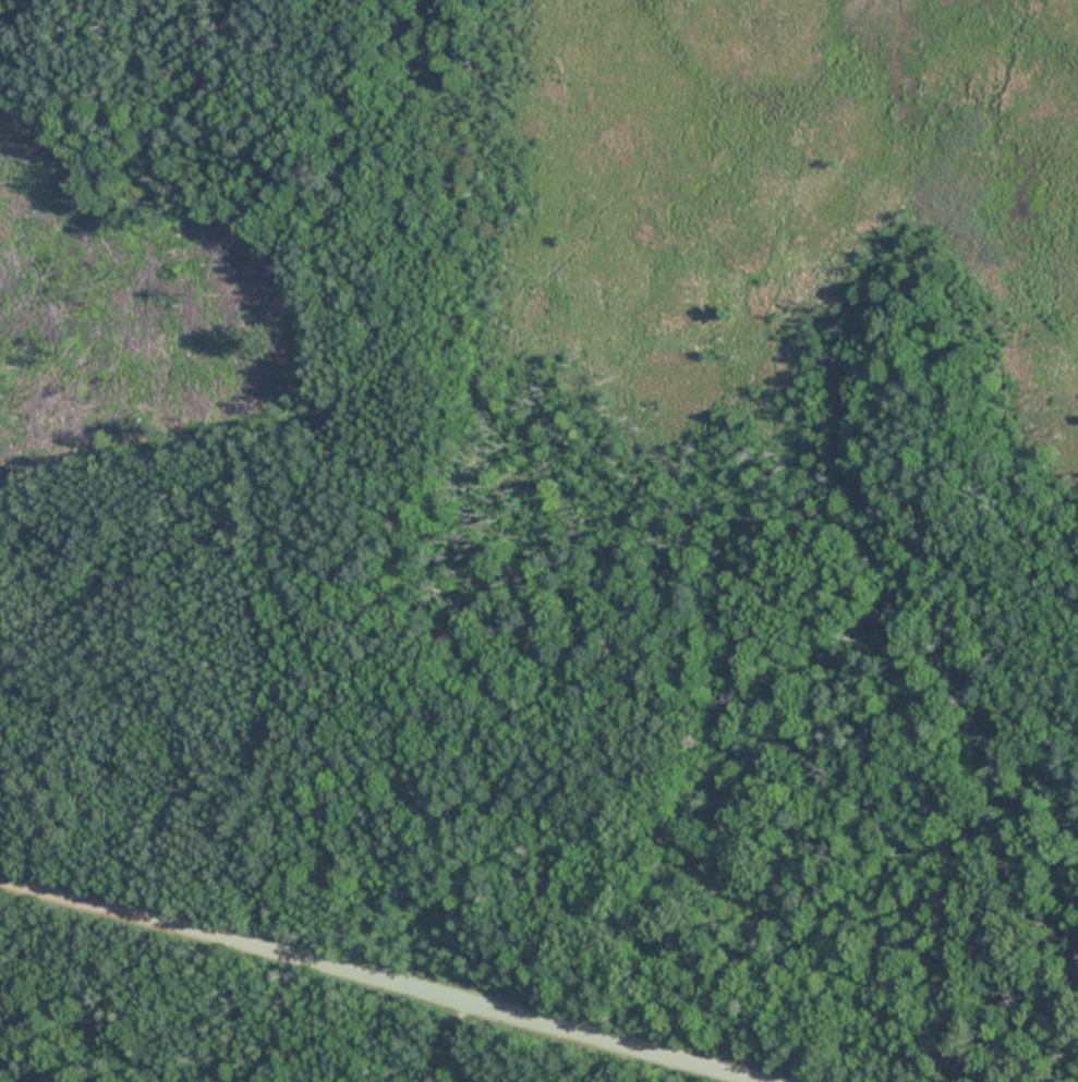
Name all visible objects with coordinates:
park: (538, 540)
road: (375, 984)

